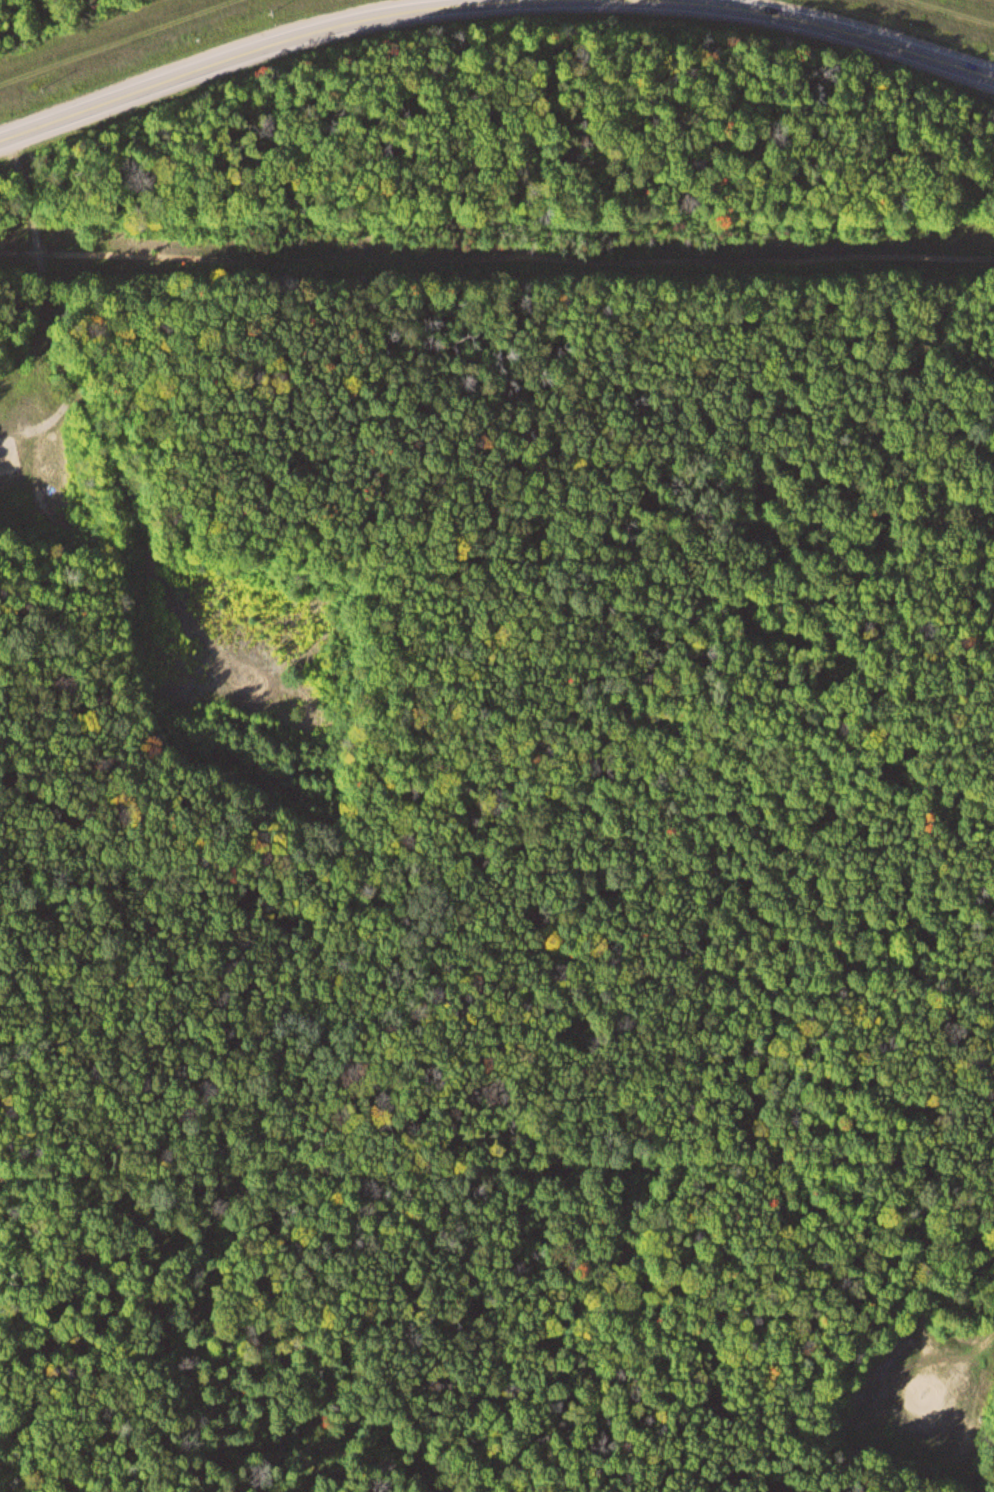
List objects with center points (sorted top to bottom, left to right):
road: (661, 5)
road: (491, 9)
road: (277, 1171)
road: (982, 1357)

